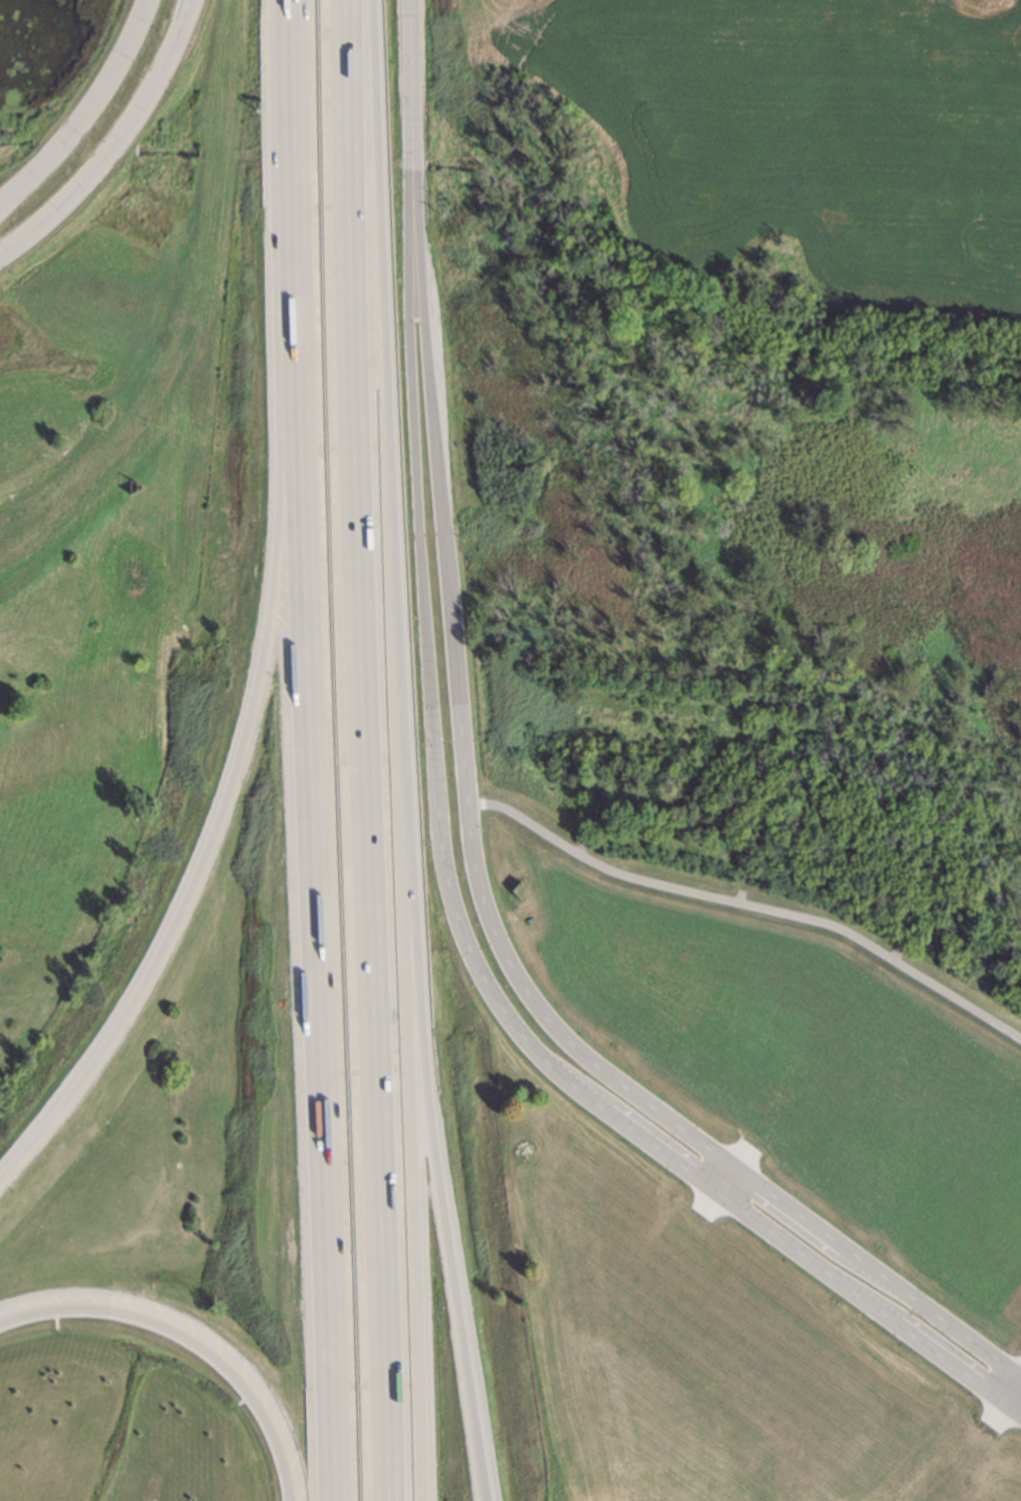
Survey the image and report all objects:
road: (188, 13)
road: (416, 84)
road: (365, 88)
road: (93, 103)
road: (107, 154)
road: (289, 156)
crop: (748, 161)
road: (8, 199)
road: (228, 775)
road: (375, 838)
road: (400, 838)
road: (489, 894)
road: (310, 906)
road: (465, 921)
road: (420, 1031)
road: (725, 1181)
road: (187, 1342)
road: (1005, 1401)

